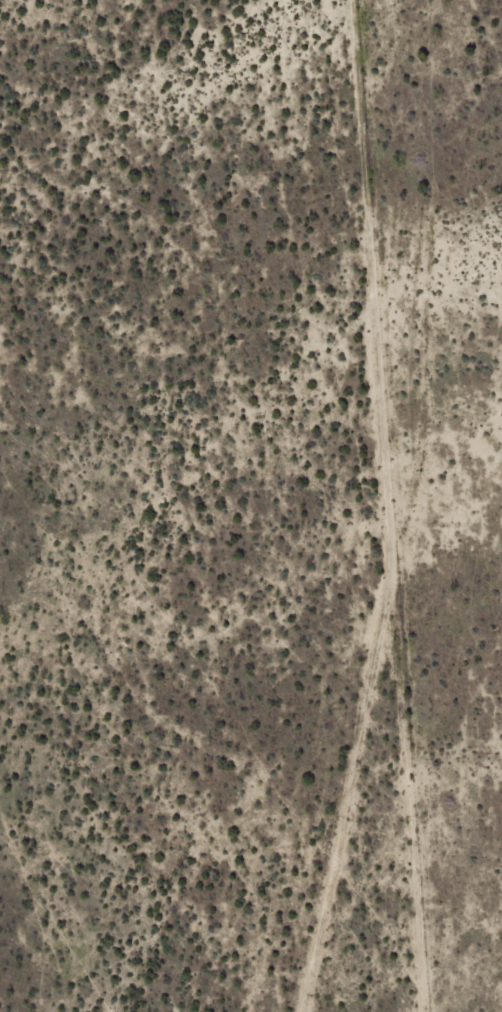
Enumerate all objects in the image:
road: (410, 512)

